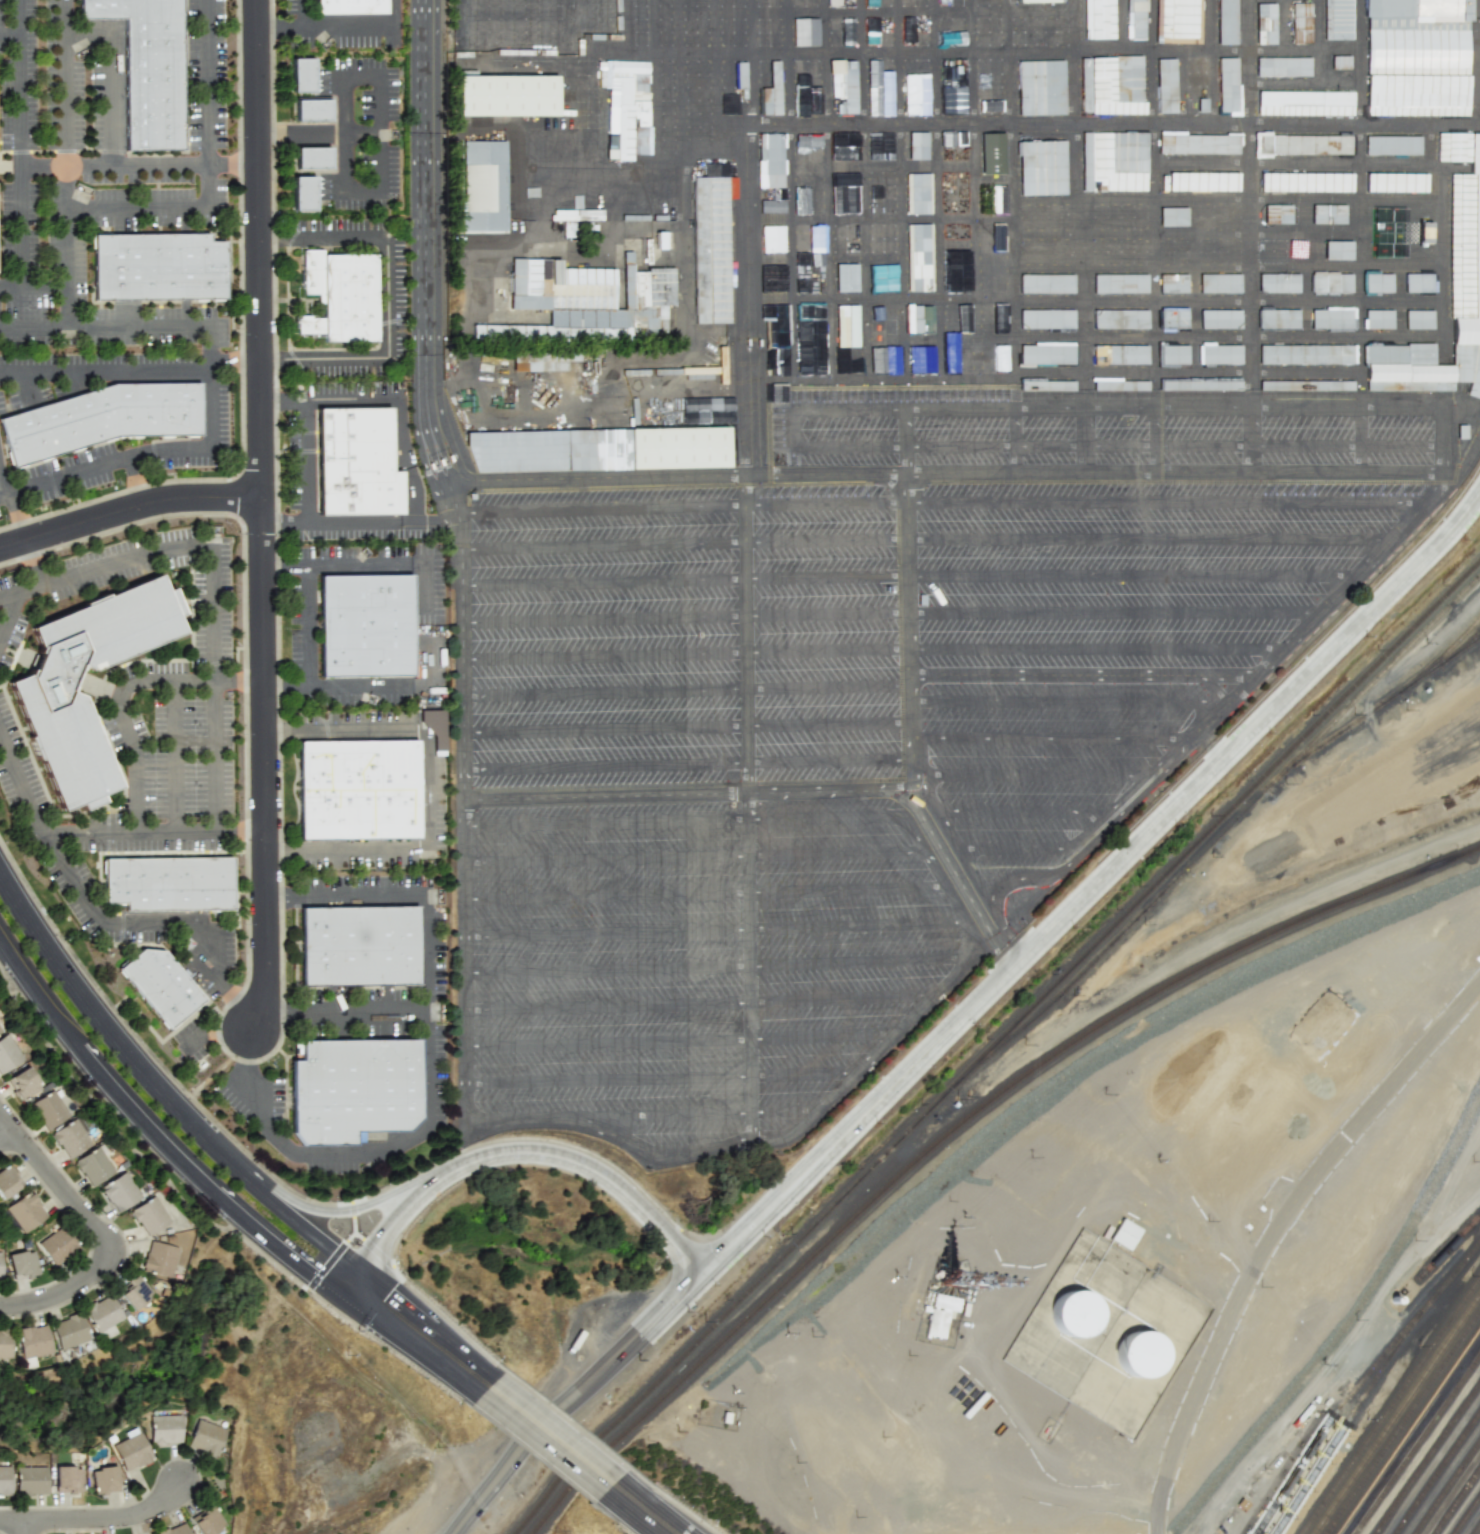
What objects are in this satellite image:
building: (1037, 0)
building: (834, 2)
building: (353, 7)
road: (1038, 11)
road: (301, 13)
building: (1137, 18)
building: (1100, 19)
building: (1342, 19)
building: (1178, 21)
building: (1229, 22)
building: (1304, 23)
building: (1268, 24)
road: (504, 25)
road: (542, 25)
road: (580, 25)
road: (617, 25)
road: (653, 25)
road: (680, 25)
road: (716, 25)
road: (752, 25)
road: (1286, 25)
road: (338, 27)
building: (871, 31)
building: (806, 32)
road: (10, 34)
building: (848, 34)
building: (733, 39)
road: (1319, 42)
road: (1097, 49)
road: (912, 50)
road: (1161, 50)
road: (1284, 50)
road: (583, 51)
building: (1344, 57)
building: (1416, 58)
road: (1213, 61)
road: (1359, 61)
building: (1286, 68)
building: (150, 69)
building: (305, 75)
building: (740, 75)
building: (801, 75)
road: (109, 83)
road: (1303, 85)
road: (1478, 85)
building: (768, 86)
building: (843, 86)
building: (1115, 86)
building: (1232, 86)
building: (704, 87)
building: (1043, 87)
building: (1169, 87)
road: (1183, 87)
building: (1199, 87)
building: (879, 90)
building: (916, 94)
building: (512, 96)
building: (953, 100)
road: (1009, 100)
road: (1072, 100)
building: (810, 103)
building: (729, 104)
building: (1306, 104)
road: (682, 105)
road: (719, 105)
building: (626, 107)
building: (316, 111)
road: (19, 112)
road: (651, 120)
road: (1479, 122)
road: (879, 123)
road: (1129, 123)
road: (1377, 123)
road: (607, 126)
building: (705, 127)
building: (952, 139)
building: (808, 140)
building: (880, 144)
building: (1202, 145)
building: (844, 146)
building: (1305, 146)
building: (1396, 146)
building: (1454, 147)
building: (992, 153)
road: (70, 154)
building: (316, 160)
building: (770, 160)
building: (1115, 163)
road: (1309, 164)
road: (567, 166)
building: (1045, 169)
building: (918, 173)
road: (380, 174)
road: (639, 174)
building: (1199, 182)
building: (1307, 182)
building: (1398, 185)
building: (488, 187)
road: (790, 188)
road: (828, 188)
road: (864, 188)
road: (901, 188)
road: (936, 188)
road: (1154, 191)
building: (844, 193)
building: (307, 195)
road: (1360, 195)
building: (998, 200)
road: (566, 201)
building: (801, 201)
road: (202, 206)
building: (771, 206)
building: (1278, 214)
building: (1329, 214)
building: (1173, 216)
building: (1038, 217)
building: (1236, 218)
road: (20, 229)
road: (1227, 231)
building: (1389, 232)
building: (1425, 232)
building: (996, 236)
road: (1250, 236)
building: (773, 239)
building: (662, 240)
road: (599, 242)
building: (1462, 246)
building: (1297, 248)
building: (710, 249)
building: (1339, 250)
building: (1140, 251)
building: (1027, 252)
building: (1235, 252)
building: (919, 257)
building: (1098, 257)
road: (748, 262)
road: (618, 265)
road: (1206, 268)
building: (159, 269)
building: (957, 271)
building: (992, 277)
building: (773, 278)
building: (846, 278)
building: (802, 280)
building: (1048, 282)
building: (1309, 284)
building: (1124, 285)
building: (1203, 285)
building: (1402, 285)
road: (52, 286)
road: (1084, 289)
road: (387, 296)
road: (1116, 297)
building: (343, 298)
building: (581, 301)
road: (975, 301)
road: (1441, 312)
road: (504, 316)
building: (965, 317)
building: (1000, 317)
building: (1048, 317)
building: (890, 318)
road: (1359, 319)
building: (1204, 320)
building: (1309, 320)
building: (1402, 320)
road: (209, 321)
road: (1012, 321)
building: (1124, 321)
building: (776, 324)
building: (847, 326)
building: (810, 339)
building: (924, 345)
building: (1048, 352)
building: (1386, 354)
building: (1420, 354)
building: (954, 355)
building: (1308, 355)
building: (1123, 356)
building: (1202, 356)
building: (995, 358)
building: (877, 360)
building: (526, 362)
building: (780, 362)
building: (848, 365)
building: (1467, 366)
building: (708, 369)
road: (1112, 370)
road: (1304, 370)
road: (105, 371)
road: (1359, 376)
building: (586, 379)
building: (1408, 384)
building: (1047, 385)
building: (1120, 385)
building: (1201, 385)
building: (1306, 385)
road: (27, 386)
road: (904, 386)
building: (776, 391)
road: (369, 398)
road: (539, 411)
building: (707, 417)
building: (98, 421)
road: (794, 428)
road: (580, 433)
road: (1084, 439)
road: (1155, 439)
road: (1361, 439)
road: (1442, 439)
road: (1015, 440)
road: (768, 442)
building: (678, 448)
building: (611, 449)
building: (518, 450)
road: (432, 451)
building: (355, 465)
road: (707, 475)
road: (70, 476)
road: (138, 481)
road: (1193, 482)
road: (452, 483)
road: (4, 485)
road: (670, 485)
road: (4, 495)
road: (940, 501)
road: (128, 510)
road: (261, 515)
street lamp: (162, 522)
road: (327, 527)
street lamp: (239, 533)
road: (27, 538)
road: (1150, 538)
street lamp: (120, 540)
street lamp: (1464, 541)
road: (683, 543)
road: (190, 545)
road: (323, 568)
road: (282, 569)
road: (908, 574)
road: (909, 596)
road: (6, 608)
road: (1113, 612)
road: (684, 616)
street lamp: (284, 627)
building: (366, 628)
street lamp: (233, 629)
street lamp: (1368, 637)
railway: (1467, 645)
road: (870, 649)
railway: (1447, 652)
road: (1082, 675)
road: (1, 685)
road: (332, 686)
road: (686, 690)
building: (43, 695)
road: (1070, 700)
railway: (1377, 708)
road: (686, 726)
parking lot: (854, 726)
road: (126, 732)
street lamp: (1270, 734)
road: (172, 736)
road: (1050, 738)
road: (1210, 744)
road: (27, 748)
road: (1179, 750)
road: (686, 764)
road: (1033, 774)
road: (826, 780)
road: (895, 786)
building: (357, 791)
road: (429, 791)
road: (691, 793)
road: (913, 795)
road: (748, 809)
road: (1026, 810)
road: (702, 819)
street lamp: (1175, 827)
road: (206, 829)
railway: (1217, 840)
road: (1019, 848)
road: (694, 857)
building: (169, 885)
road: (462, 885)
road: (963, 887)
road: (705, 892)
road: (402, 893)
road: (108, 925)
road: (715, 929)
street lamp: (1072, 930)
street lamp: (65, 936)
road: (282, 950)
building: (363, 952)
road: (715, 966)
road: (993, 985)
building: (159, 986)
road: (928, 1001)
road: (700, 1003)
street lamp: (974, 1027)
road: (215, 1029)
building: (0, 1031)
road: (125, 1031)
road: (681, 1040)
railway: (996, 1046)
building: (8, 1053)
road: (662, 1078)
street lamp: (80, 1080)
building: (23, 1083)
building: (347, 1091)
building: (49, 1109)
road: (695, 1114)
street lamp: (876, 1125)
railway: (961, 1125)
road: (423, 1131)
road: (6, 1136)
building: (71, 1137)
road: (155, 1146)
road: (714, 1150)
road: (523, 1152)
street lamp: (19, 1162)
building: (95, 1165)
road: (279, 1180)
building: (8, 1181)
building: (120, 1192)
road: (365, 1204)
building: (25, 1212)
building: (149, 1215)
street lamp: (215, 1217)
road: (98, 1232)
road: (321, 1232)
road: (1269, 1232)
building: (1124, 1234)
road: (361, 1238)
street lamp: (763, 1238)
street lamp: (128, 1244)
building: (58, 1245)
traffic signals: (383, 1245)
railway: (1451, 1248)
building: (159, 1258)
building: (23, 1264)
building: (1, 1266)
traffic signals: (298, 1276)
street lamp: (714, 1287)
building: (134, 1292)
street lamp: (75, 1303)
traffic signals: (381, 1304)
building: (940, 1314)
building: (103, 1315)
building: (1074, 1315)
storage tank: (1074, 1315)
building: (69, 1330)
road: (420, 1335)
building: (5, 1342)
building: (33, 1342)
building: (1140, 1355)
storage tank: (1140, 1355)
railway: (1361, 1382)
railway: (1370, 1390)
railway: (1392, 1407)
railway: (1398, 1415)
railway: (1404, 1424)
building: (166, 1429)
railway: (1410, 1433)
building: (206, 1438)
road: (547, 1438)
railway: (1418, 1446)
building: (132, 1449)
road: (1256, 1459)
railway: (1428, 1459)
street lamp: (162, 1467)
railway: (1438, 1474)
building: (68, 1478)
building: (104, 1478)
building: (31, 1479)
building: (5, 1480)
railway: (1448, 1488)
road: (479, 1503)
railway: (1458, 1503)
road: (640, 1510)
railway: (1468, 1517)
road: (108, 1519)
building: (207, 1520)
road: (11, 1521)
road: (23, 1527)
building: (174, 1529)
railway: (1478, 1531)

